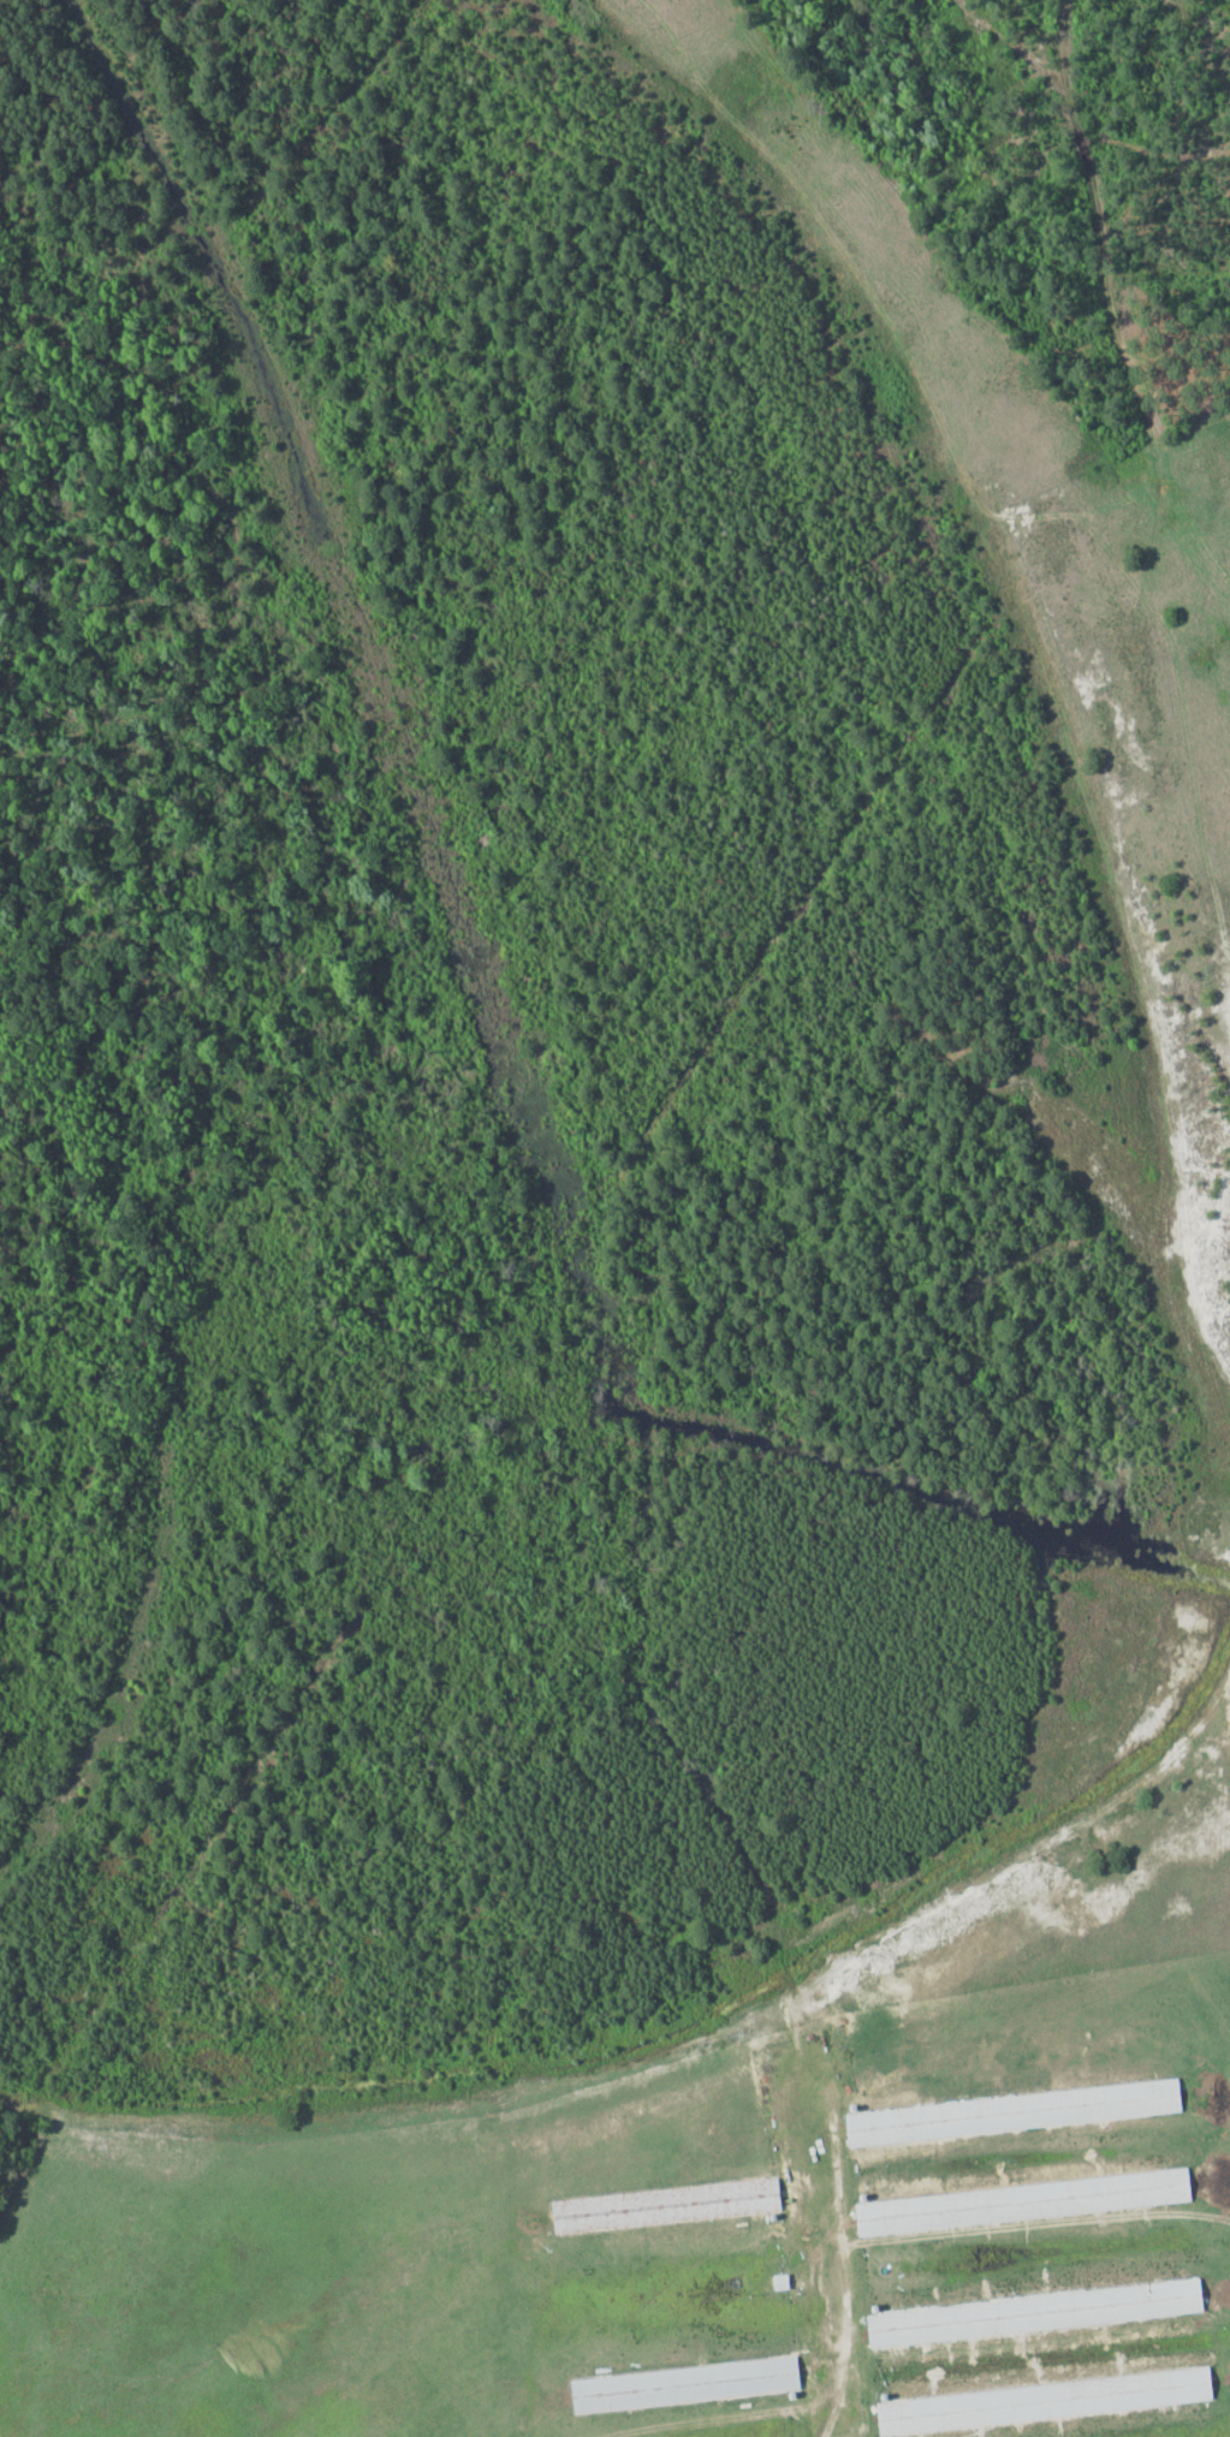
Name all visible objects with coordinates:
building: (1014, 2111)
building: (1023, 2200)
building: (666, 2205)
building: (1035, 2312)
building: (685, 2383)
building: (1044, 2400)

